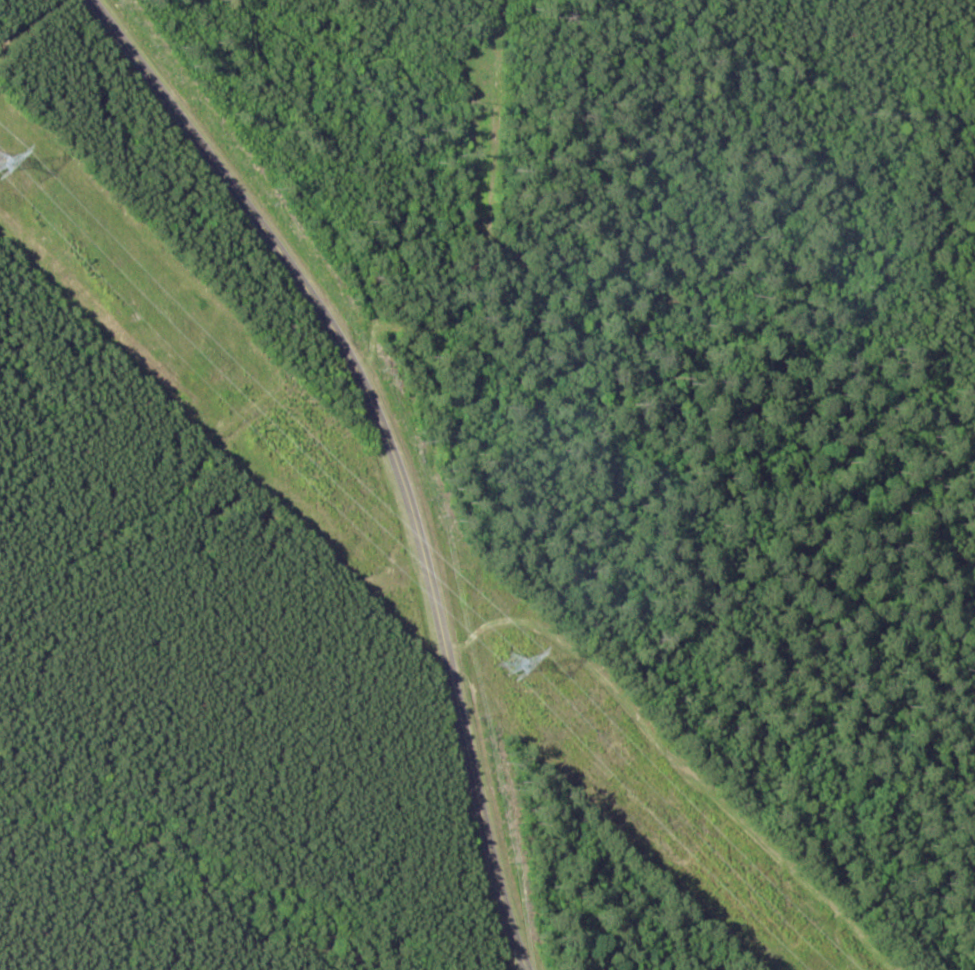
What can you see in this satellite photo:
power tower: (6, 168)
road: (363, 452)
power tower: (522, 665)

